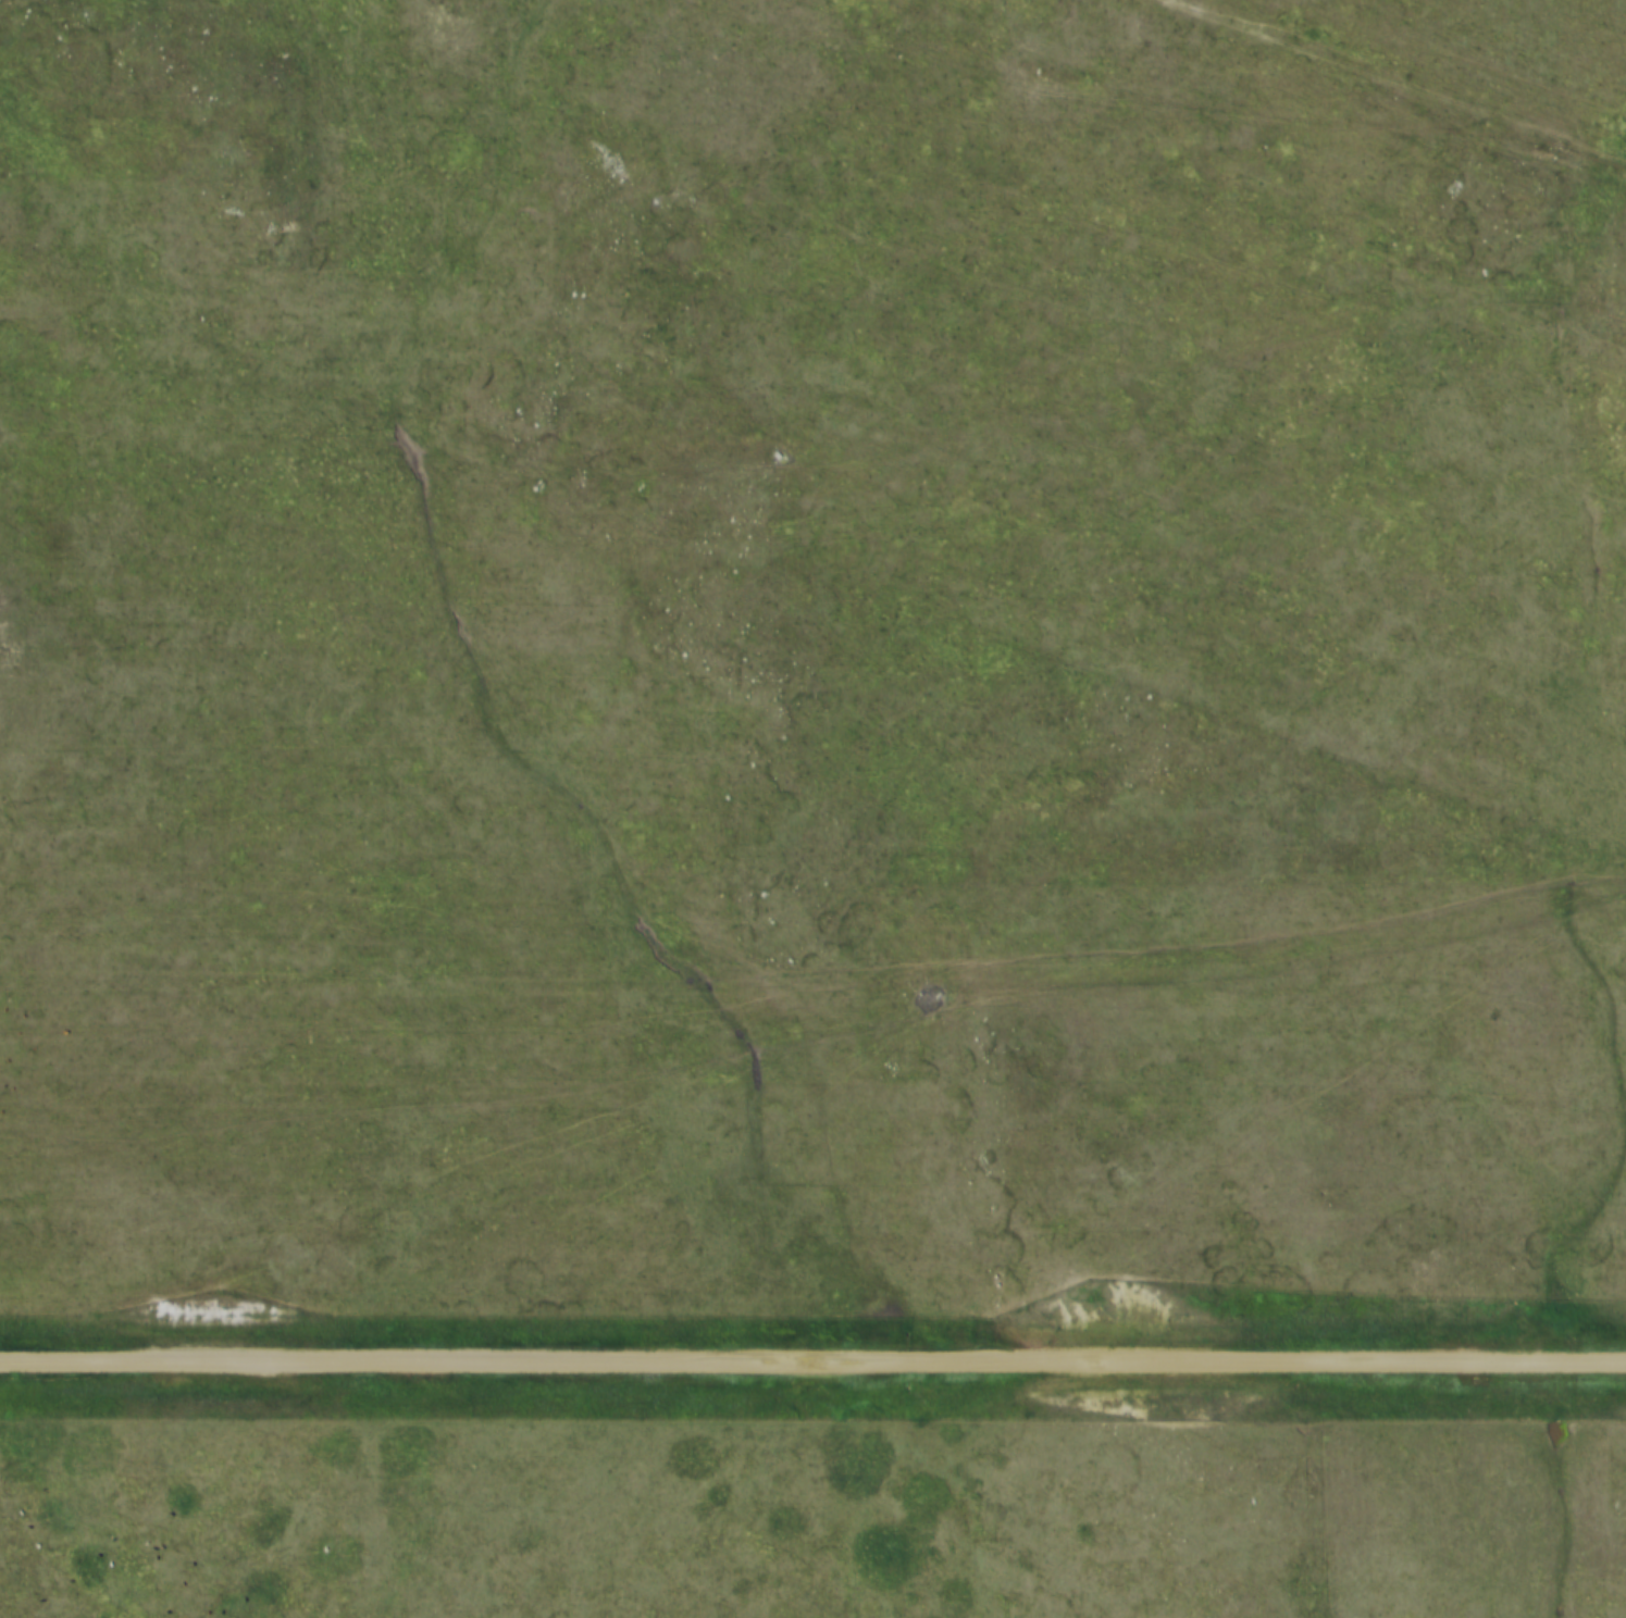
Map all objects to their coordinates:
road: (812, 1360)

